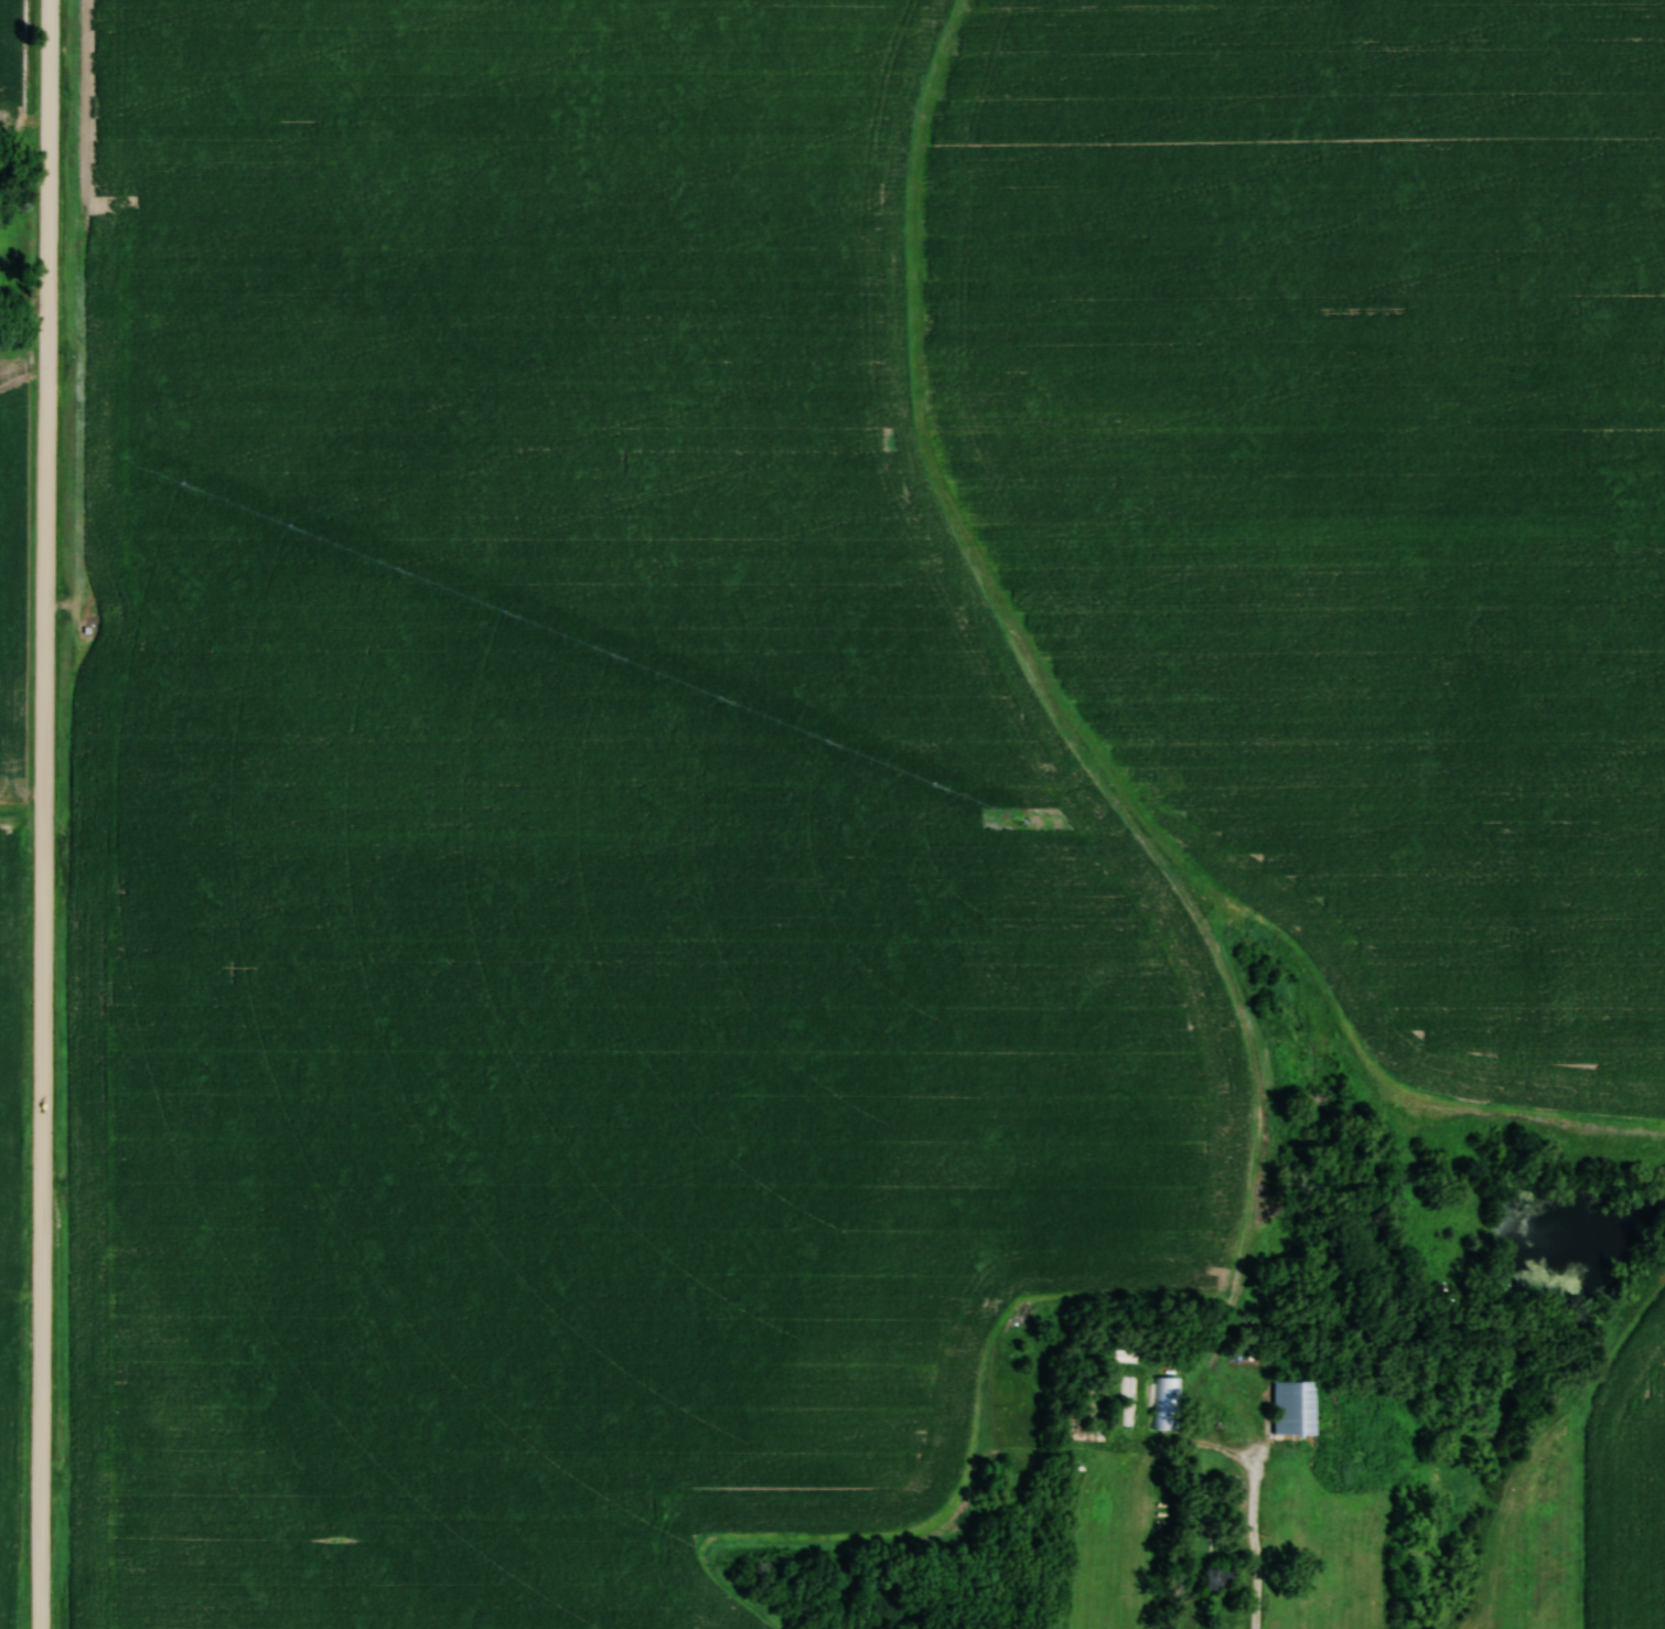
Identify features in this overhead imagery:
road: (46, 814)
building: (1168, 1395)
building: (1292, 1407)
road: (1253, 1500)
building: (1215, 1576)

